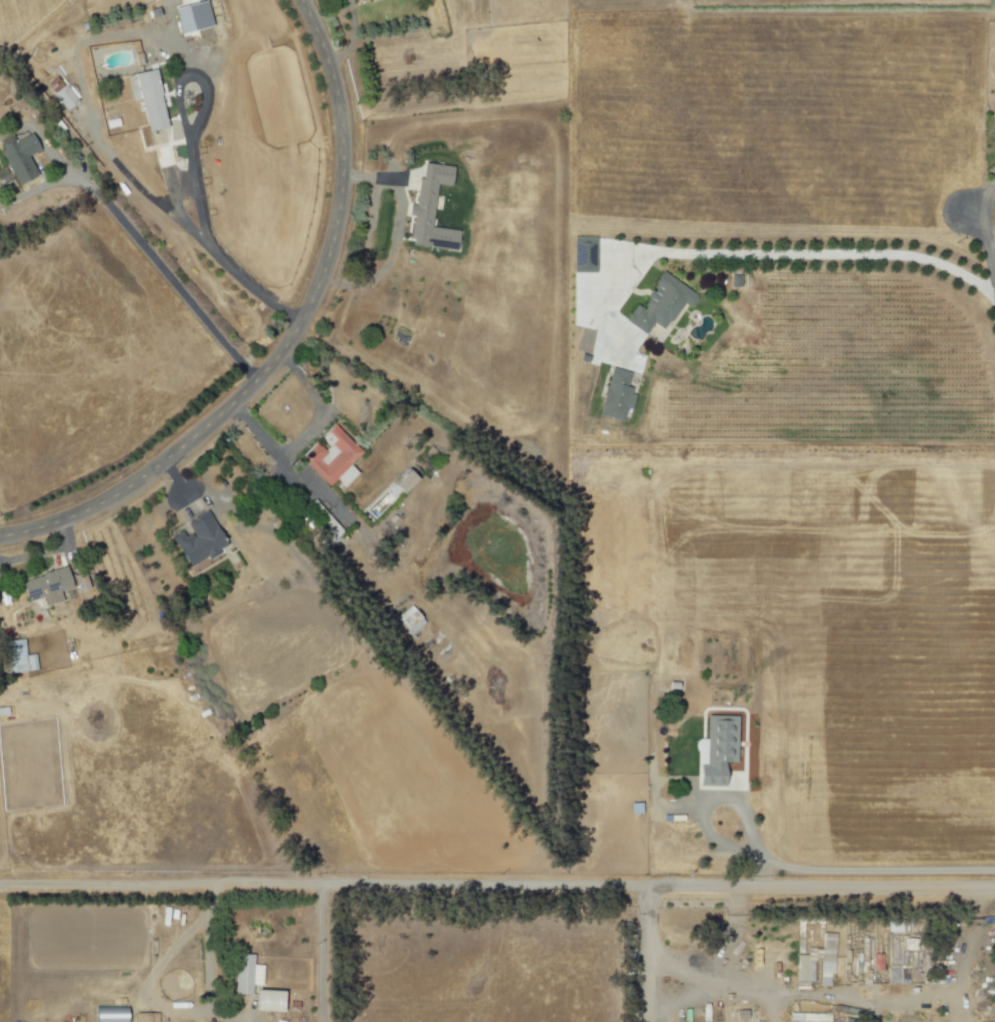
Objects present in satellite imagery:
building: (369, 0)
building: (191, 17)
road: (350, 37)
building: (59, 92)
building: (146, 98)
road: (178, 124)
road: (37, 140)
building: (17, 157)
road: (104, 162)
road: (34, 189)
building: (428, 209)
road: (990, 235)
road: (395, 236)
road: (987, 248)
building: (582, 254)
road: (802, 254)
road: (209, 257)
road: (160, 276)
building: (659, 304)
road: (288, 339)
building: (614, 394)
road: (306, 431)
building: (330, 456)
building: (402, 481)
building: (198, 540)
road: (46, 550)
building: (407, 620)
building: (15, 657)
building: (714, 749)
road: (703, 802)
road: (871, 870)
road: (497, 887)
road: (648, 921)
road: (734, 936)
road: (207, 947)
road: (319, 952)
building: (245, 974)
road: (647, 986)
road: (766, 986)
building: (267, 1001)
road: (771, 1004)
building: (108, 1014)
building: (144, 1017)
building: (808, 1017)

